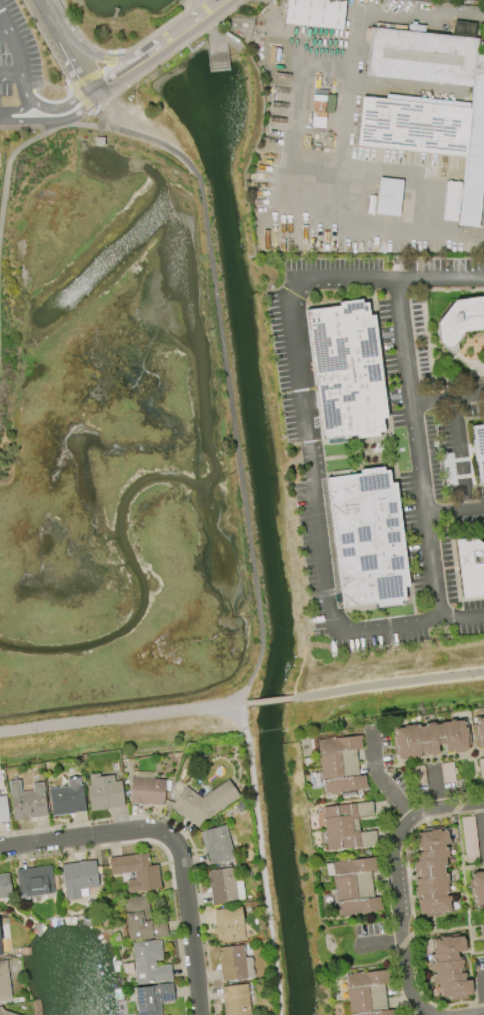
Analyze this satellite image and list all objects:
road: (188, 3)
road: (209, 9)
road: (420, 11)
building: (316, 13)
road: (173, 15)
road: (226, 15)
road: (185, 27)
road: (5, 33)
road: (12, 38)
road: (193, 39)
road: (47, 47)
road: (64, 47)
road: (103, 50)
road: (326, 51)
building: (426, 55)
road: (104, 57)
road: (105, 57)
road: (132, 64)
parking lot: (17, 67)
road: (9, 69)
road: (104, 69)
road: (84, 79)
road: (136, 80)
road: (417, 87)
road: (25, 98)
road: (80, 99)
road: (73, 108)
road: (25, 118)
road: (346, 118)
building: (319, 119)
road: (98, 120)
building: (415, 124)
road: (286, 134)
road: (19, 147)
road: (413, 173)
building: (389, 197)
building: (451, 202)
road: (348, 231)
building: (461, 320)
road: (300, 363)
building: (346, 372)
road: (230, 388)
road: (430, 398)
road: (454, 443)
building: (479, 448)
road: (418, 449)
road: (445, 510)
road: (329, 532)
building: (367, 539)
building: (470, 566)
road: (319, 594)
road: (413, 627)
road: (302, 647)
road: (387, 683)
road: (268, 699)
road: (122, 716)
building: (479, 731)
building: (430, 737)
building: (338, 765)
road: (378, 775)
building: (145, 789)
building: (103, 793)
building: (65, 798)
building: (203, 802)
building: (26, 805)
building: (2, 810)
road: (481, 823)
building: (345, 826)
road: (182, 830)
road: (171, 844)
building: (215, 844)
road: (261, 858)
building: (135, 871)
building: (431, 871)
building: (77, 878)
building: (33, 881)
building: (4, 886)
building: (223, 886)
building: (354, 887)
building: (476, 887)
road: (399, 904)
building: (139, 920)
building: (226, 924)
building: (483, 929)
road: (384, 942)
building: (0, 953)
building: (148, 963)
building: (231, 963)
building: (448, 968)
building: (3, 983)
building: (367, 993)
building: (151, 998)
building: (235, 1000)
building: (5, 1013)

